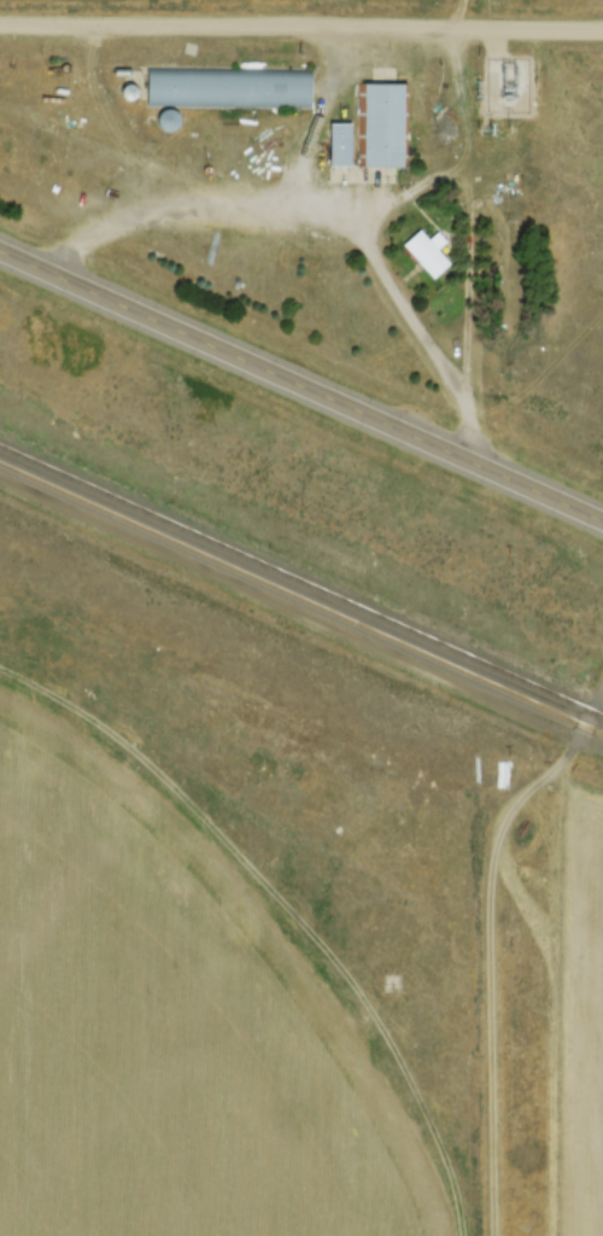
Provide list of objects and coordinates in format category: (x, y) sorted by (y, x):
road: (301, 25)
building: (371, 129)
road: (321, 225)
building: (425, 253)
road: (299, 389)
railway: (300, 583)
railway: (300, 600)

